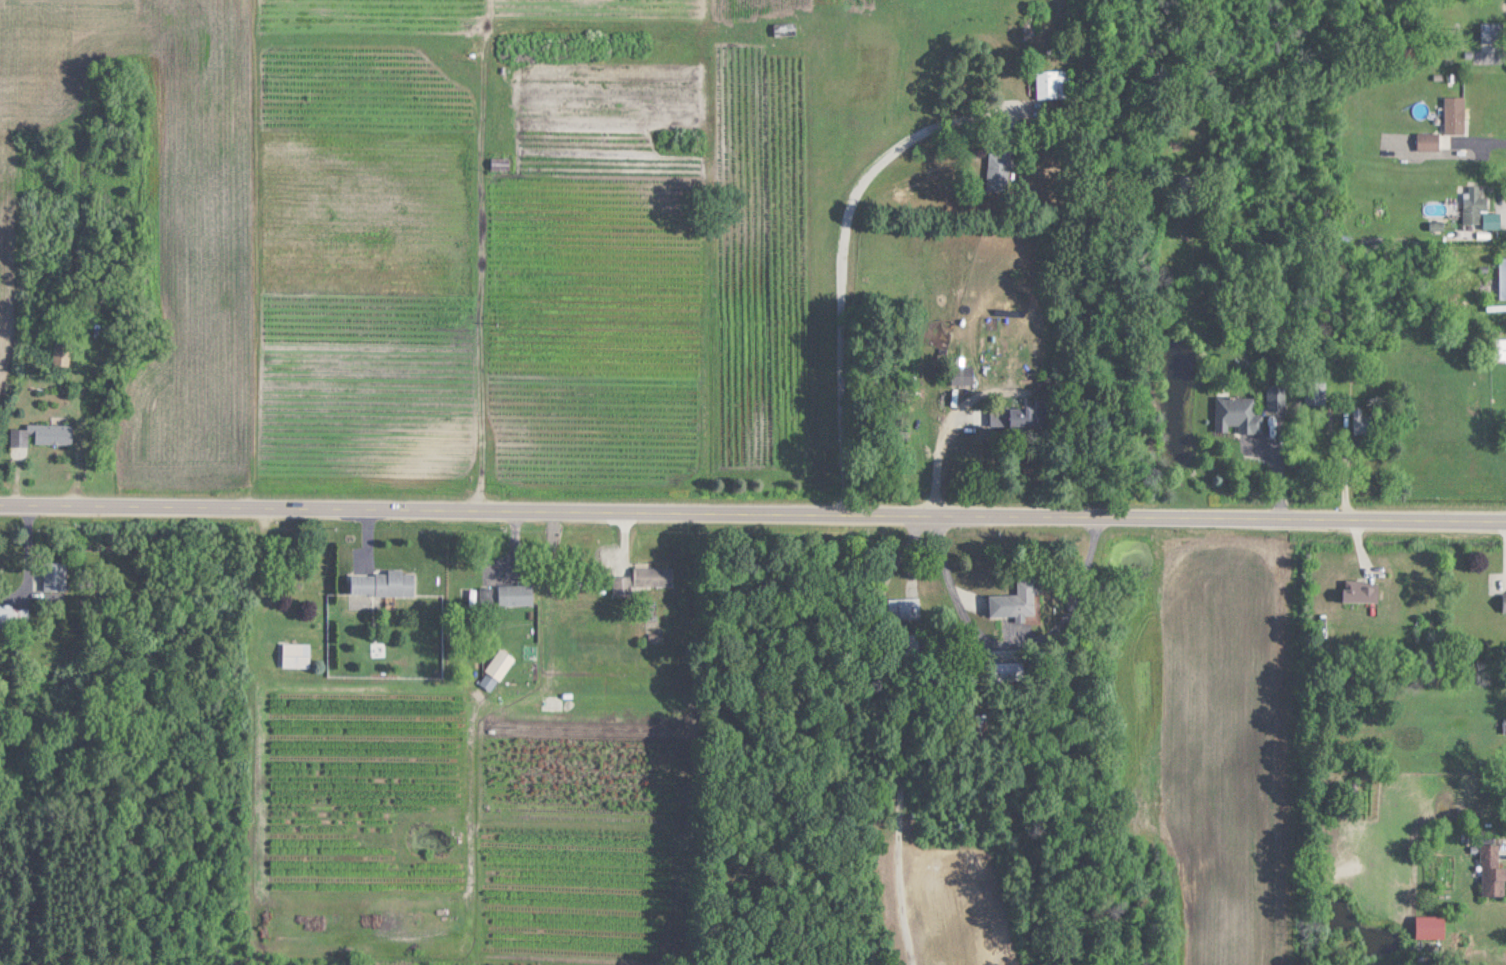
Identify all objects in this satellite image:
building: (785, 29)
building: (1493, 32)
building: (1052, 84)
building: (1454, 115)
building: (1428, 141)
road: (1477, 155)
building: (499, 164)
building: (999, 168)
building: (1186, 181)
building: (1478, 208)
road: (1496, 226)
road: (851, 277)
building: (1502, 278)
building: (1498, 349)
building: (962, 375)
building: (1315, 393)
building: (1276, 397)
building: (1237, 414)
building: (1007, 416)
building: (1360, 421)
building: (41, 435)
road: (931, 477)
road: (753, 527)
building: (54, 575)
building: (642, 579)
building: (382, 582)
building: (1359, 589)
building: (515, 593)
building: (1014, 599)
building: (1504, 600)
building: (904, 608)
building: (5, 617)
building: (283, 623)
building: (296, 654)
road: (1013, 656)
building: (499, 663)
road: (891, 743)
building: (1492, 870)

